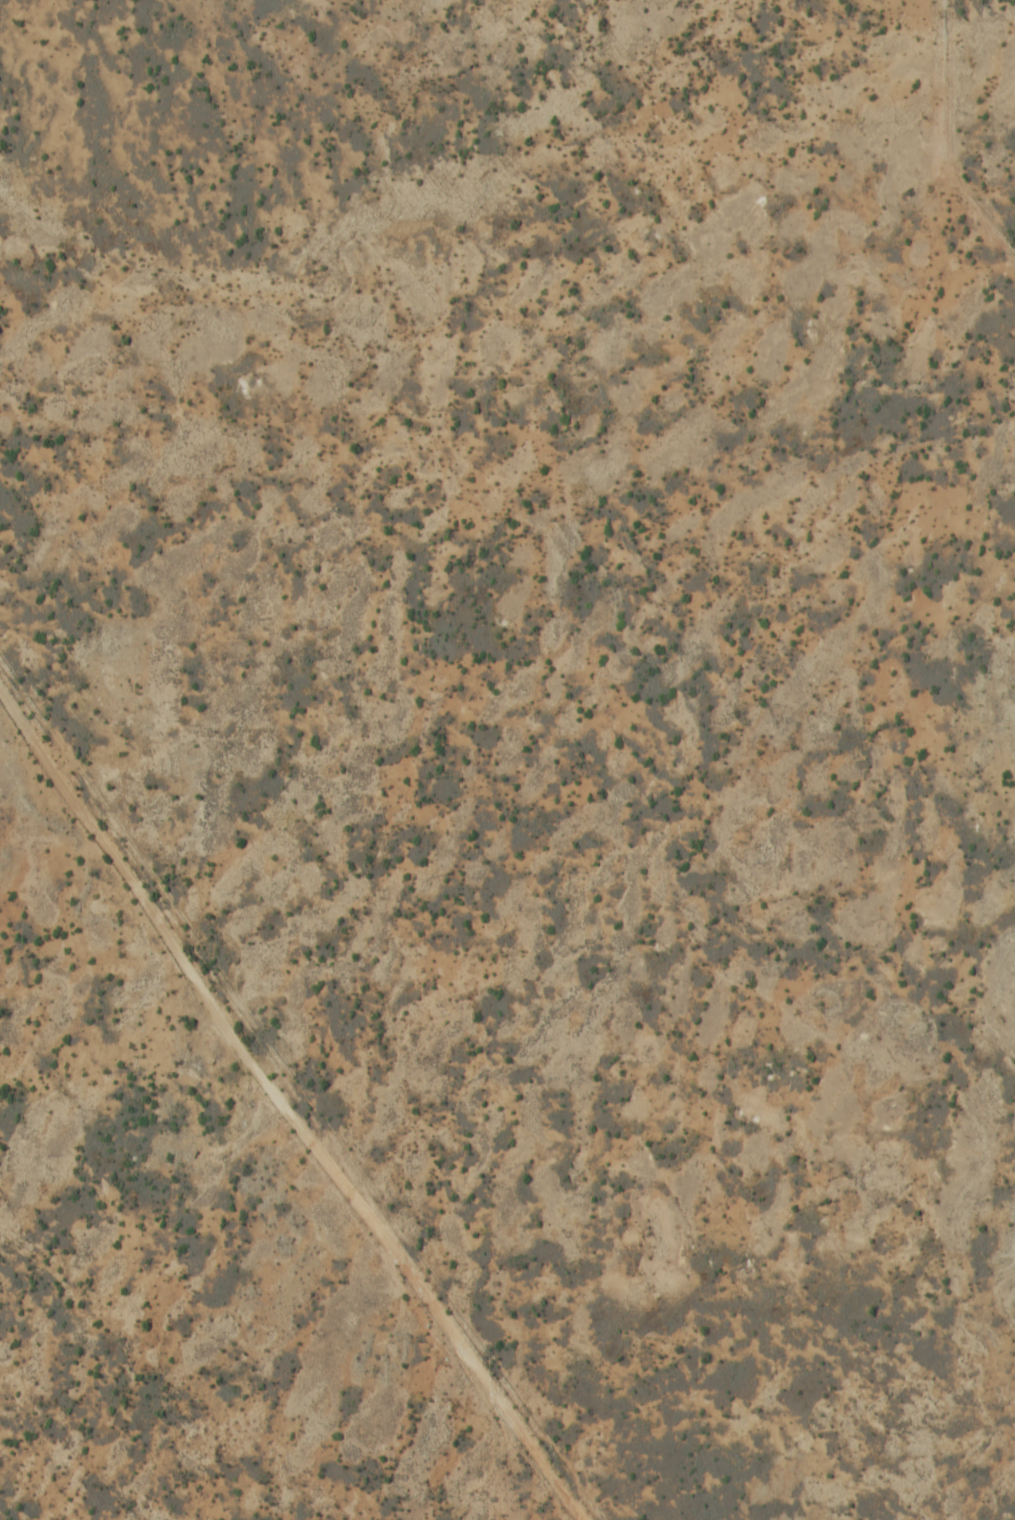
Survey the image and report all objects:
road: (292, 1101)

